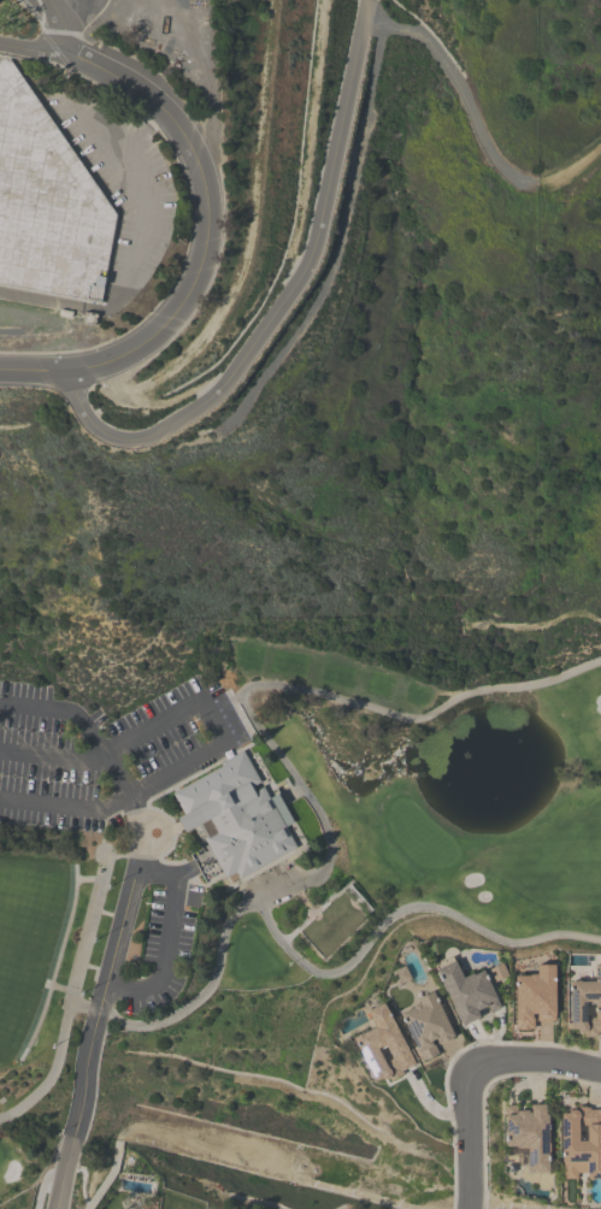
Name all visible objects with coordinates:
road: (366, 17)
road: (55, 29)
road: (475, 125)
road: (200, 185)
building: (46, 206)
road: (276, 315)
road: (34, 375)
road: (224, 732)
road: (94, 743)
road: (282, 759)
building: (235, 822)
park: (273, 841)
road: (402, 910)
road: (169, 942)
building: (465, 992)
building: (535, 997)
building: (585, 1005)
road: (98, 1021)
building: (426, 1026)
building: (382, 1048)
road: (453, 1058)
road: (187, 1061)
road: (536, 1061)
road: (487, 1089)
road: (376, 1132)
building: (528, 1137)
road: (470, 1138)
building: (581, 1144)
road: (107, 1179)
road: (43, 1185)

